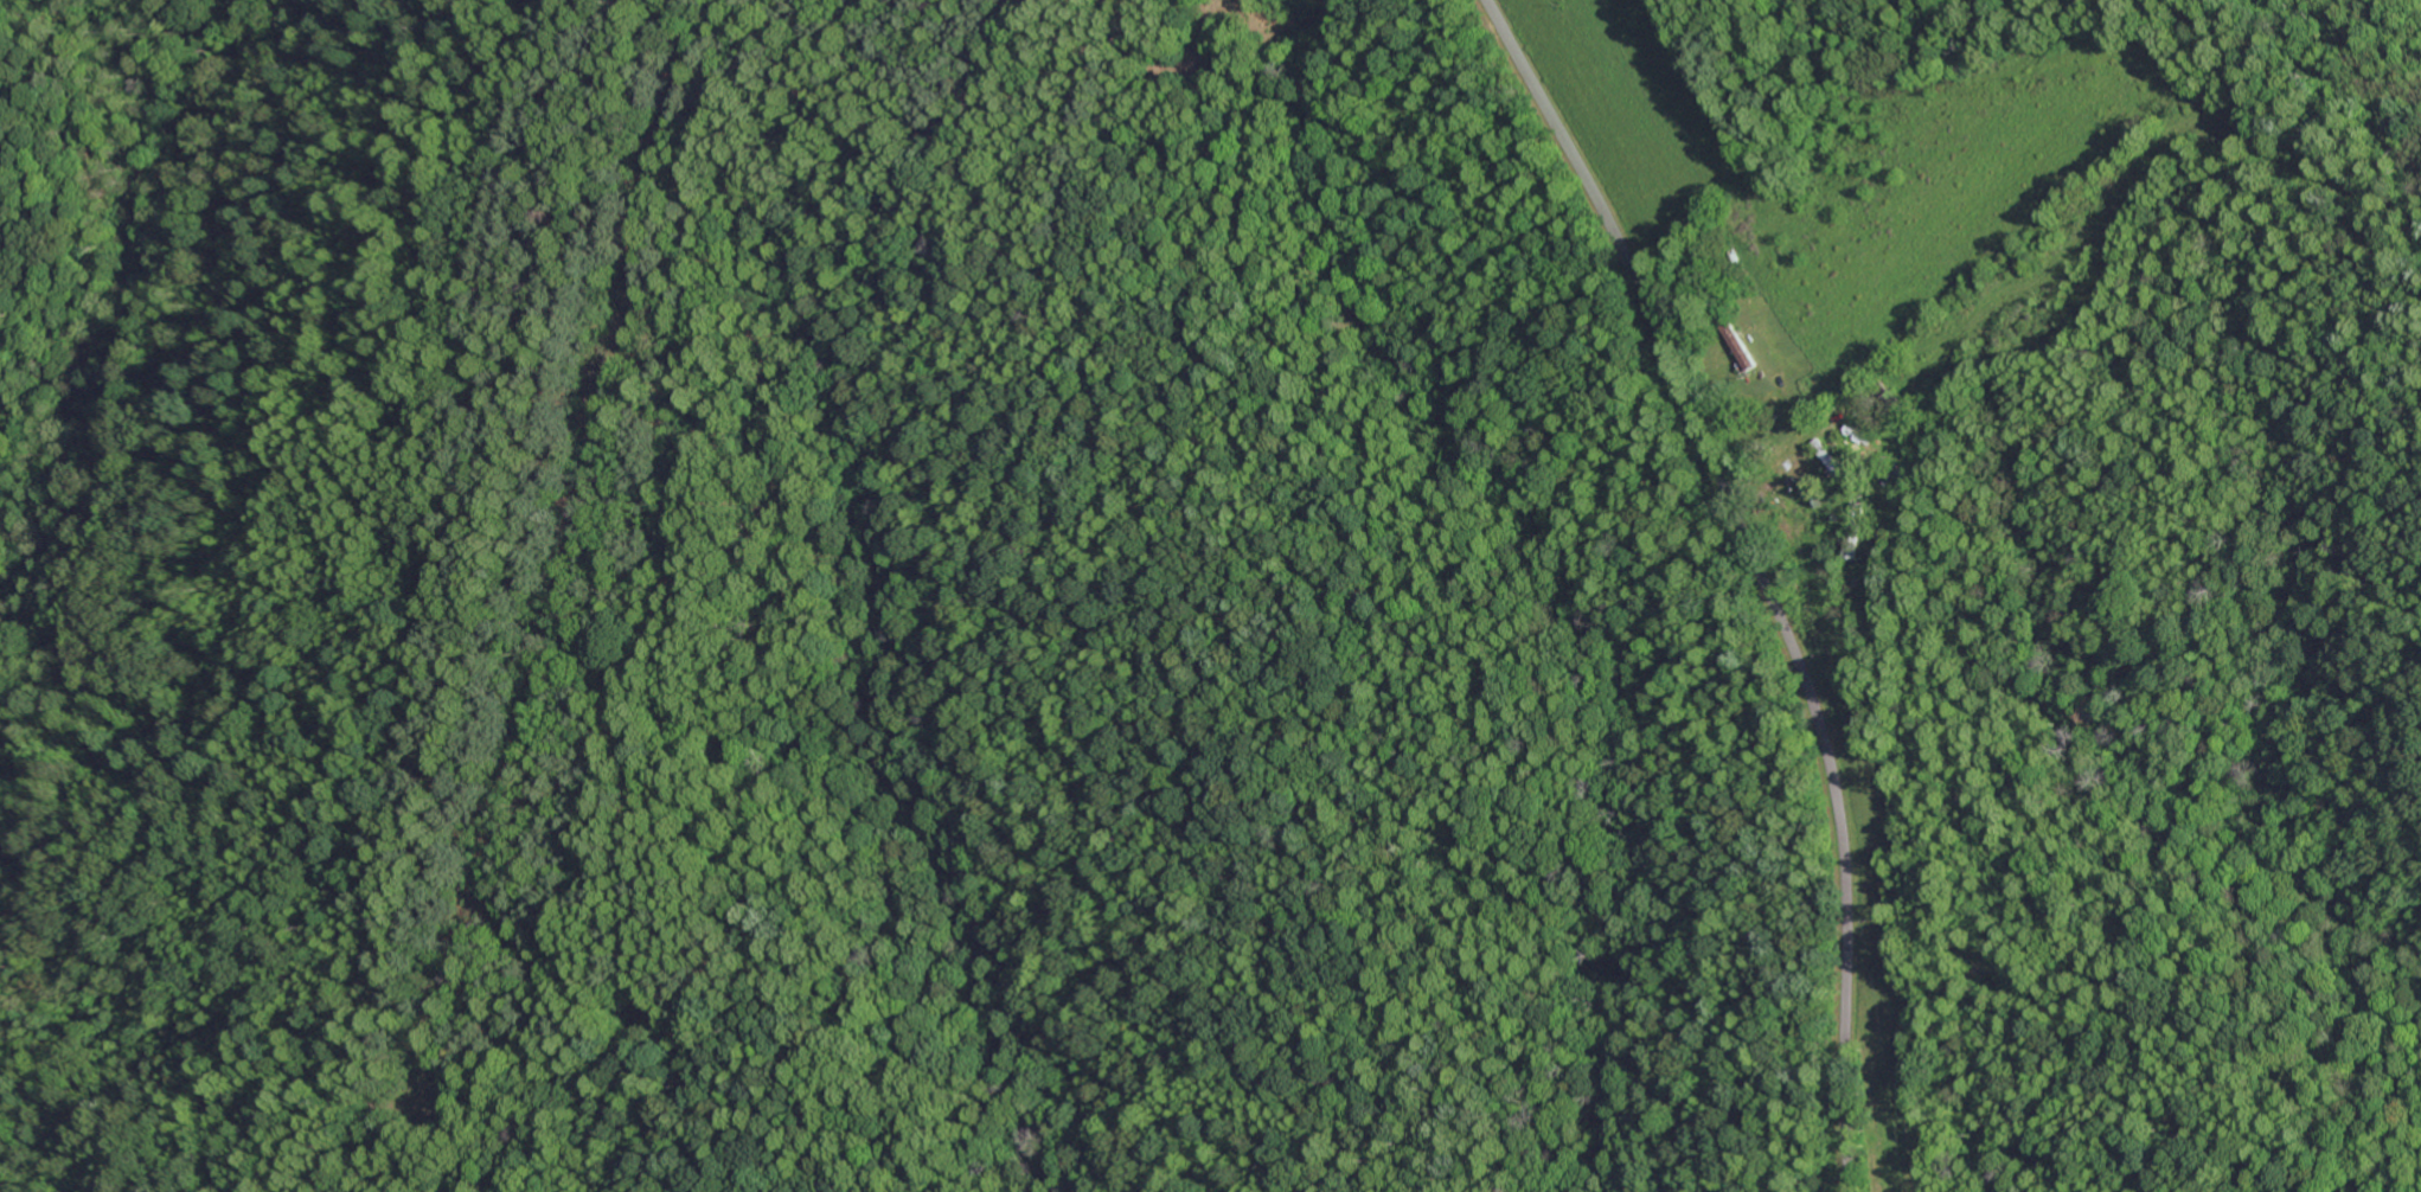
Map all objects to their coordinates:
road: (1760, 571)

